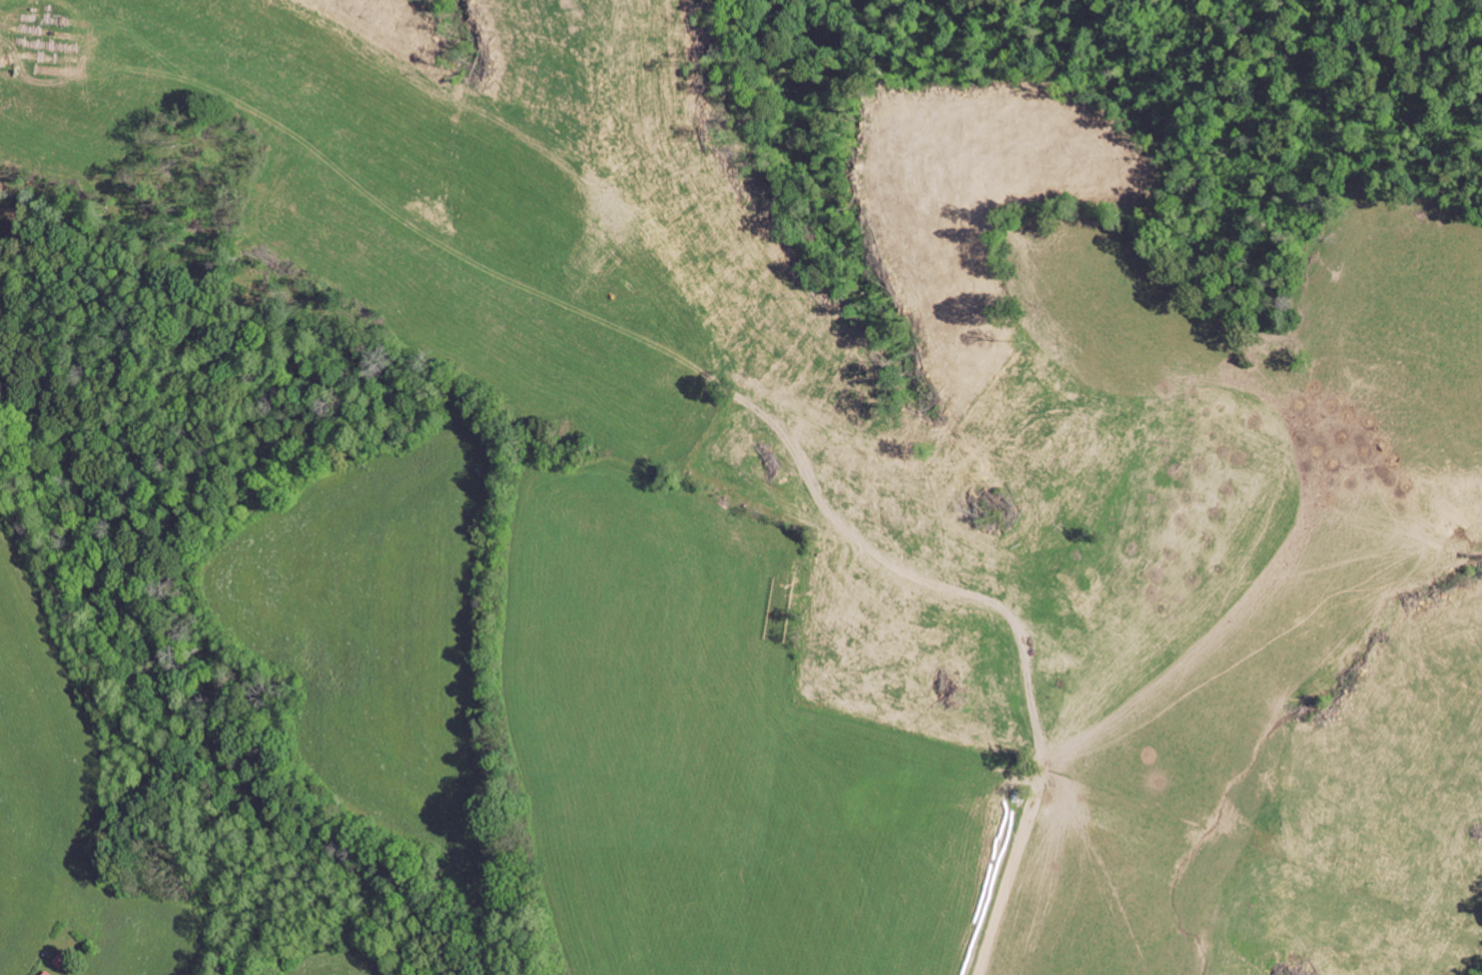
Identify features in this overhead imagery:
road: (1282, 389)
road: (1051, 727)
building: (61, 958)

